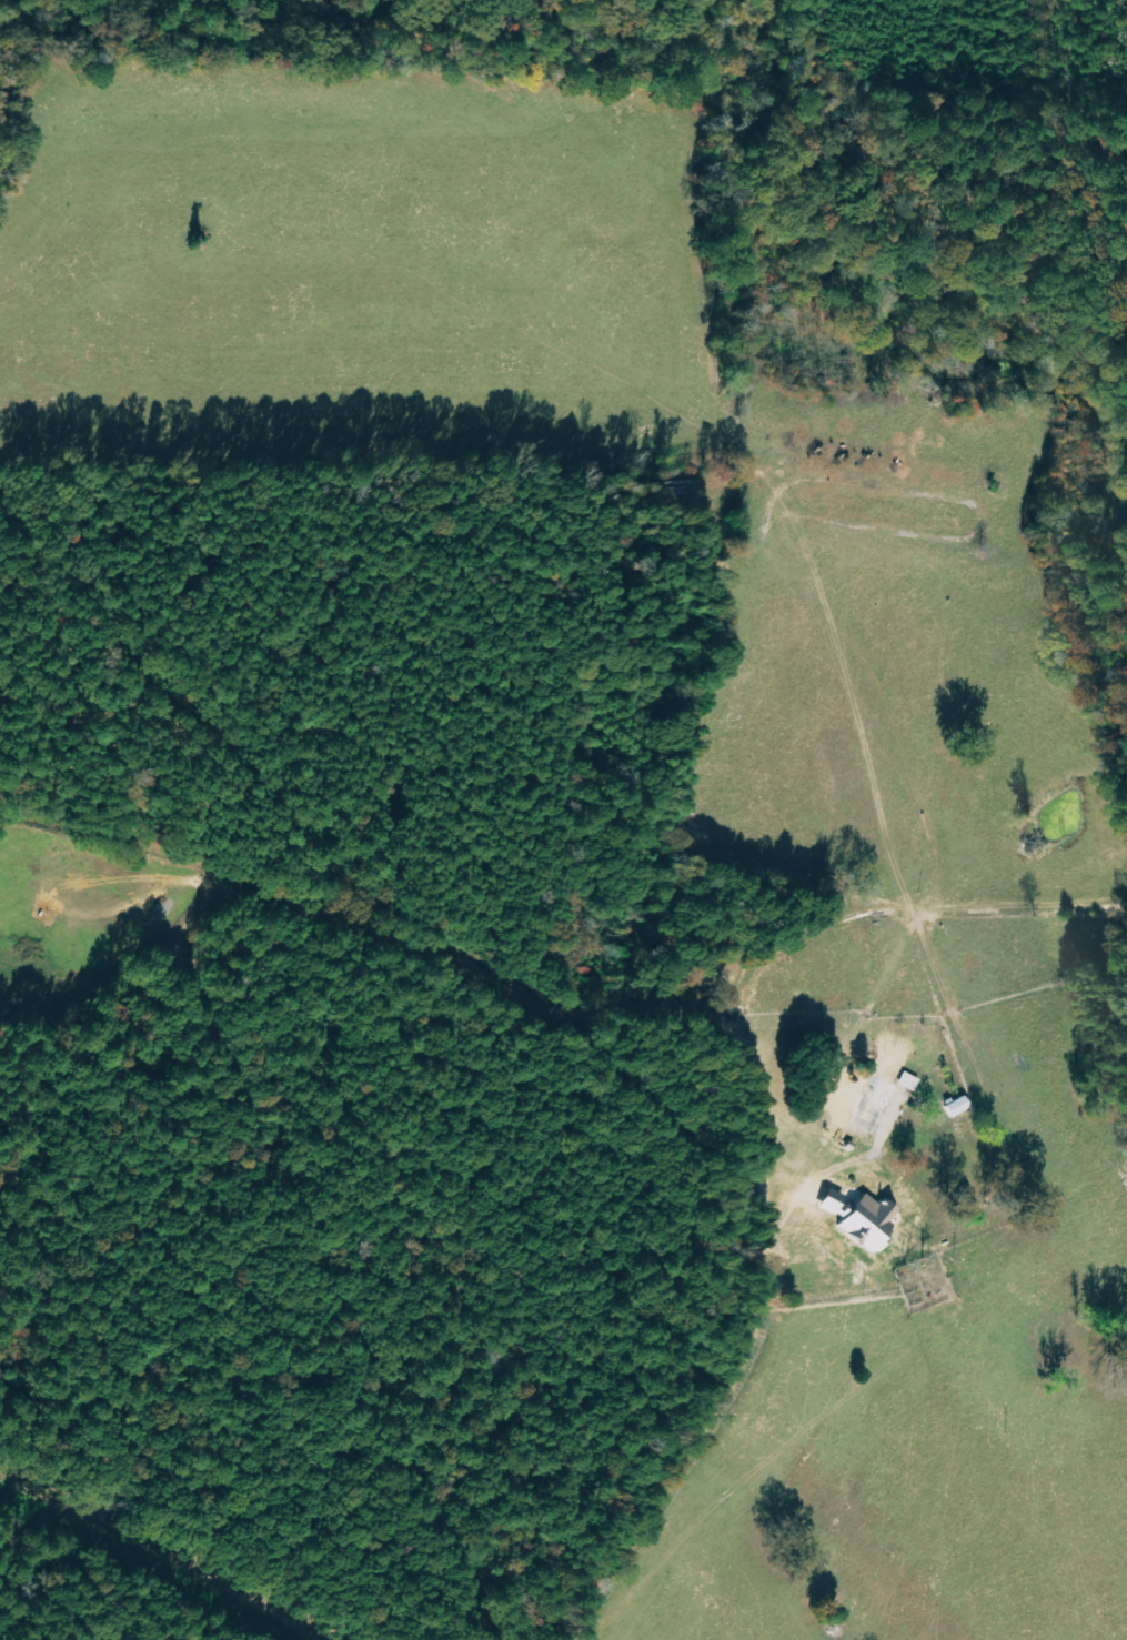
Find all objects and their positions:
building: (886, 1099)
road: (791, 1137)
building: (866, 1219)

